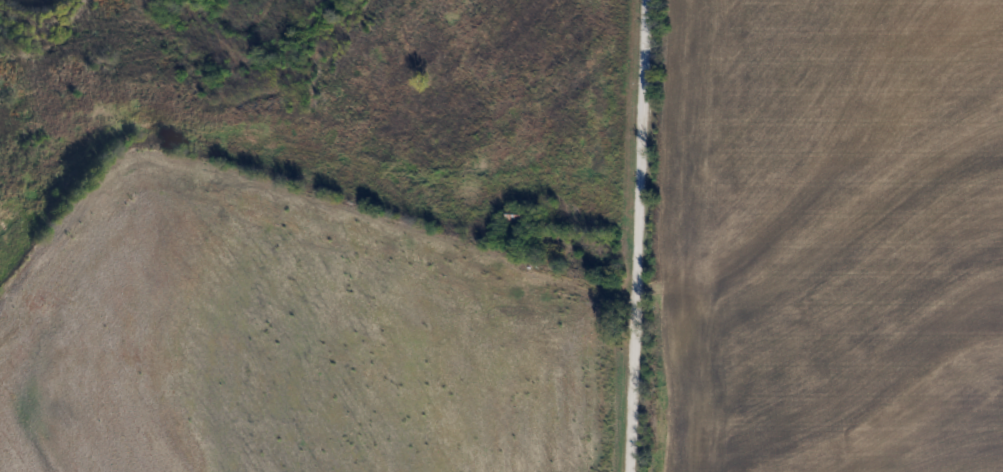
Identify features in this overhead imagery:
building: (515, 218)
road: (637, 236)

